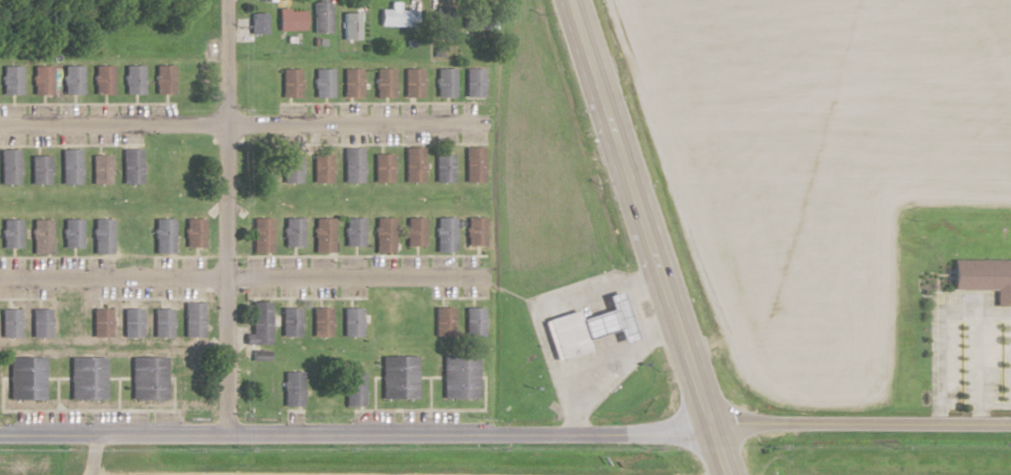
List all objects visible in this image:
building: (394, 16)
building: (319, 17)
building: (289, 20)
building: (256, 23)
building: (442, 25)
building: (348, 26)
building: (101, 79)
building: (131, 79)
building: (162, 79)
building: (9, 80)
building: (40, 80)
building: (71, 80)
building: (321, 82)
building: (350, 82)
building: (382, 82)
building: (411, 82)
building: (444, 82)
building: (473, 82)
building: (289, 83)
road: (247, 122)
building: (412, 164)
building: (473, 164)
building: (351, 165)
crop: (821, 165)
building: (9, 166)
building: (70, 166)
building: (131, 166)
building: (289, 167)
building: (442, 167)
building: (320, 168)
building: (381, 168)
building: (39, 169)
building: (100, 169)
road: (226, 216)
building: (414, 231)
building: (475, 231)
building: (291, 232)
building: (352, 232)
building: (10, 233)
building: (71, 233)
building: (194, 233)
building: (383, 234)
building: (444, 234)
building: (260, 235)
building: (321, 235)
building: (41, 236)
building: (101, 236)
building: (163, 236)
road: (650, 236)
building: (984, 277)
road: (247, 278)
road: (509, 291)
road: (551, 305)
building: (192, 319)
building: (290, 321)
building: (320, 321)
building: (443, 321)
building: (474, 321)
building: (9, 322)
building: (39, 322)
building: (101, 322)
building: (131, 322)
building: (162, 322)
building: (351, 322)
building: (259, 324)
road: (939, 326)
building: (588, 327)
gas station: (588, 327)
parking lot: (969, 350)
road: (617, 353)
road: (978, 362)
road: (512, 374)
building: (459, 376)
building: (398, 377)
building: (25, 378)
building: (86, 378)
building: (148, 378)
building: (292, 388)
building: (353, 388)
road: (861, 425)
road: (356, 432)
road: (91, 453)

